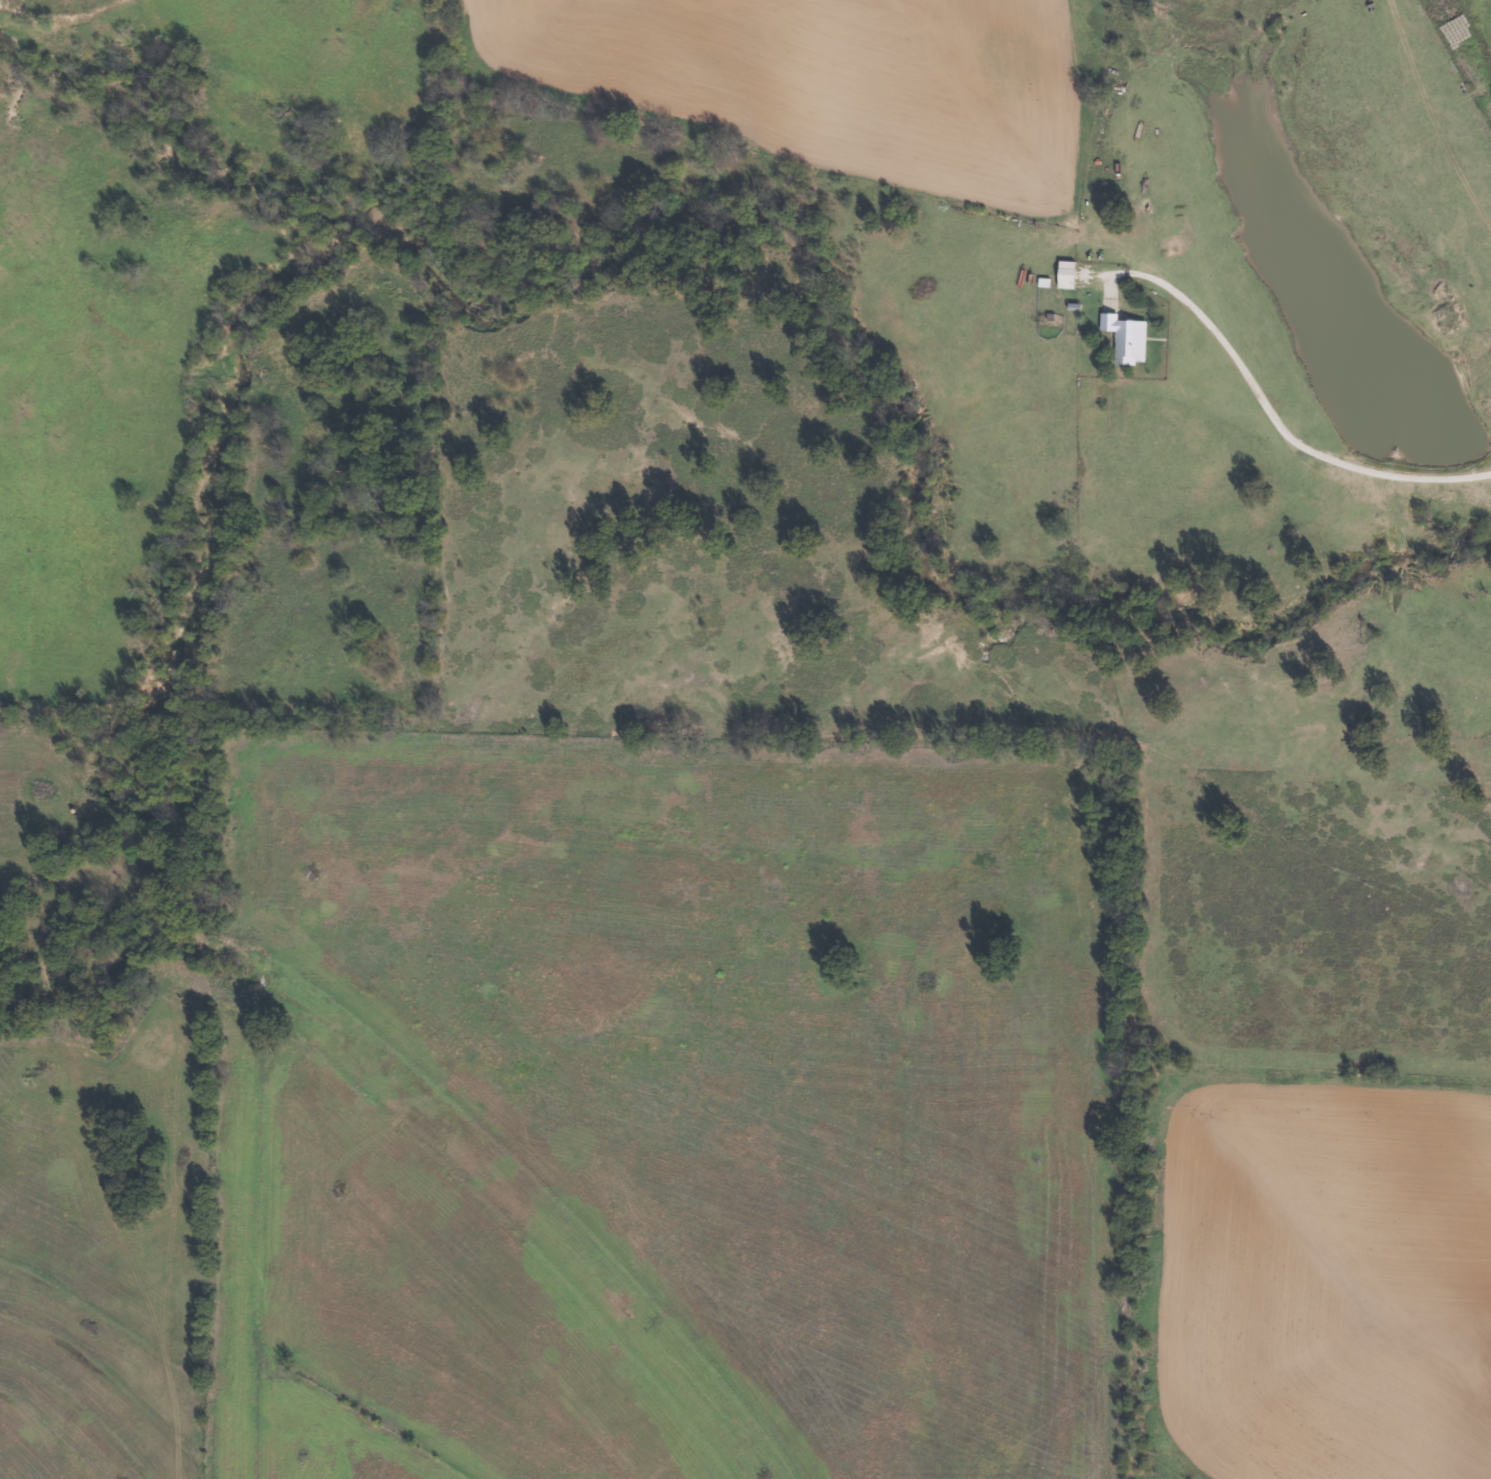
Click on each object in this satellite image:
building: (1129, 339)

